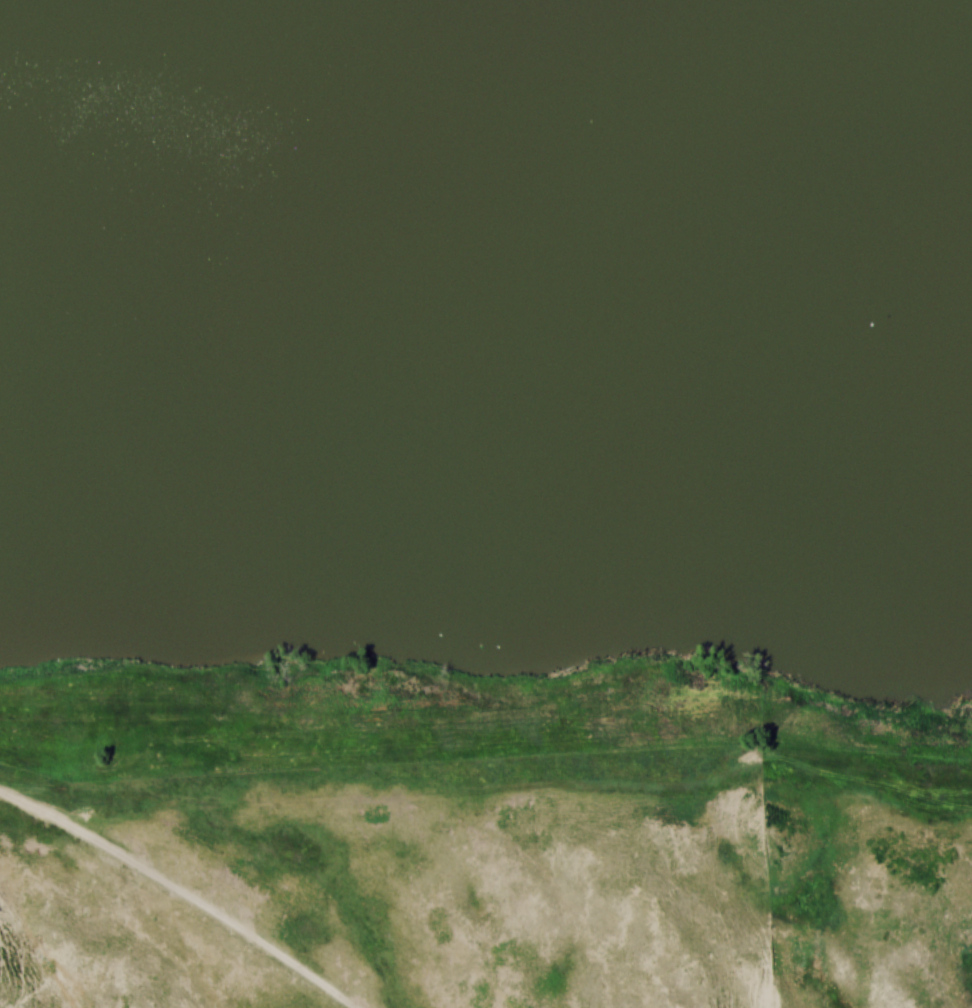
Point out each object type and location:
road: (169, 903)

